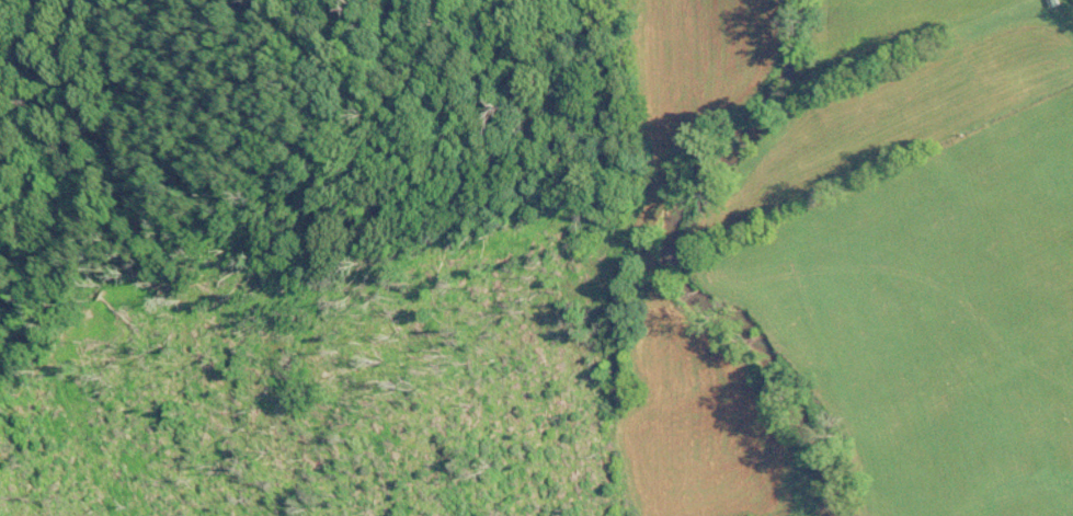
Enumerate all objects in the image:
river: (669, 268)

